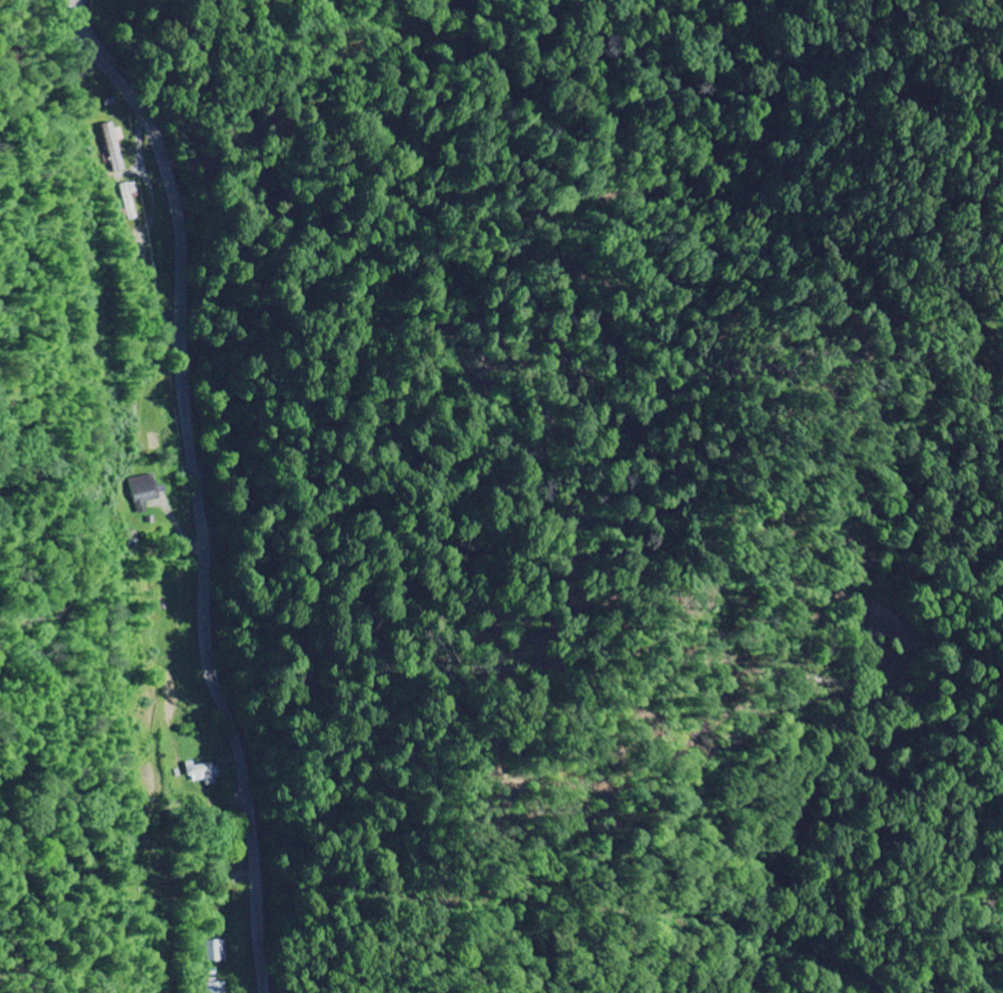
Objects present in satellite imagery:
building: (116, 147)
building: (157, 442)
road: (200, 485)
building: (145, 491)
building: (205, 774)
building: (212, 951)
building: (210, 988)

